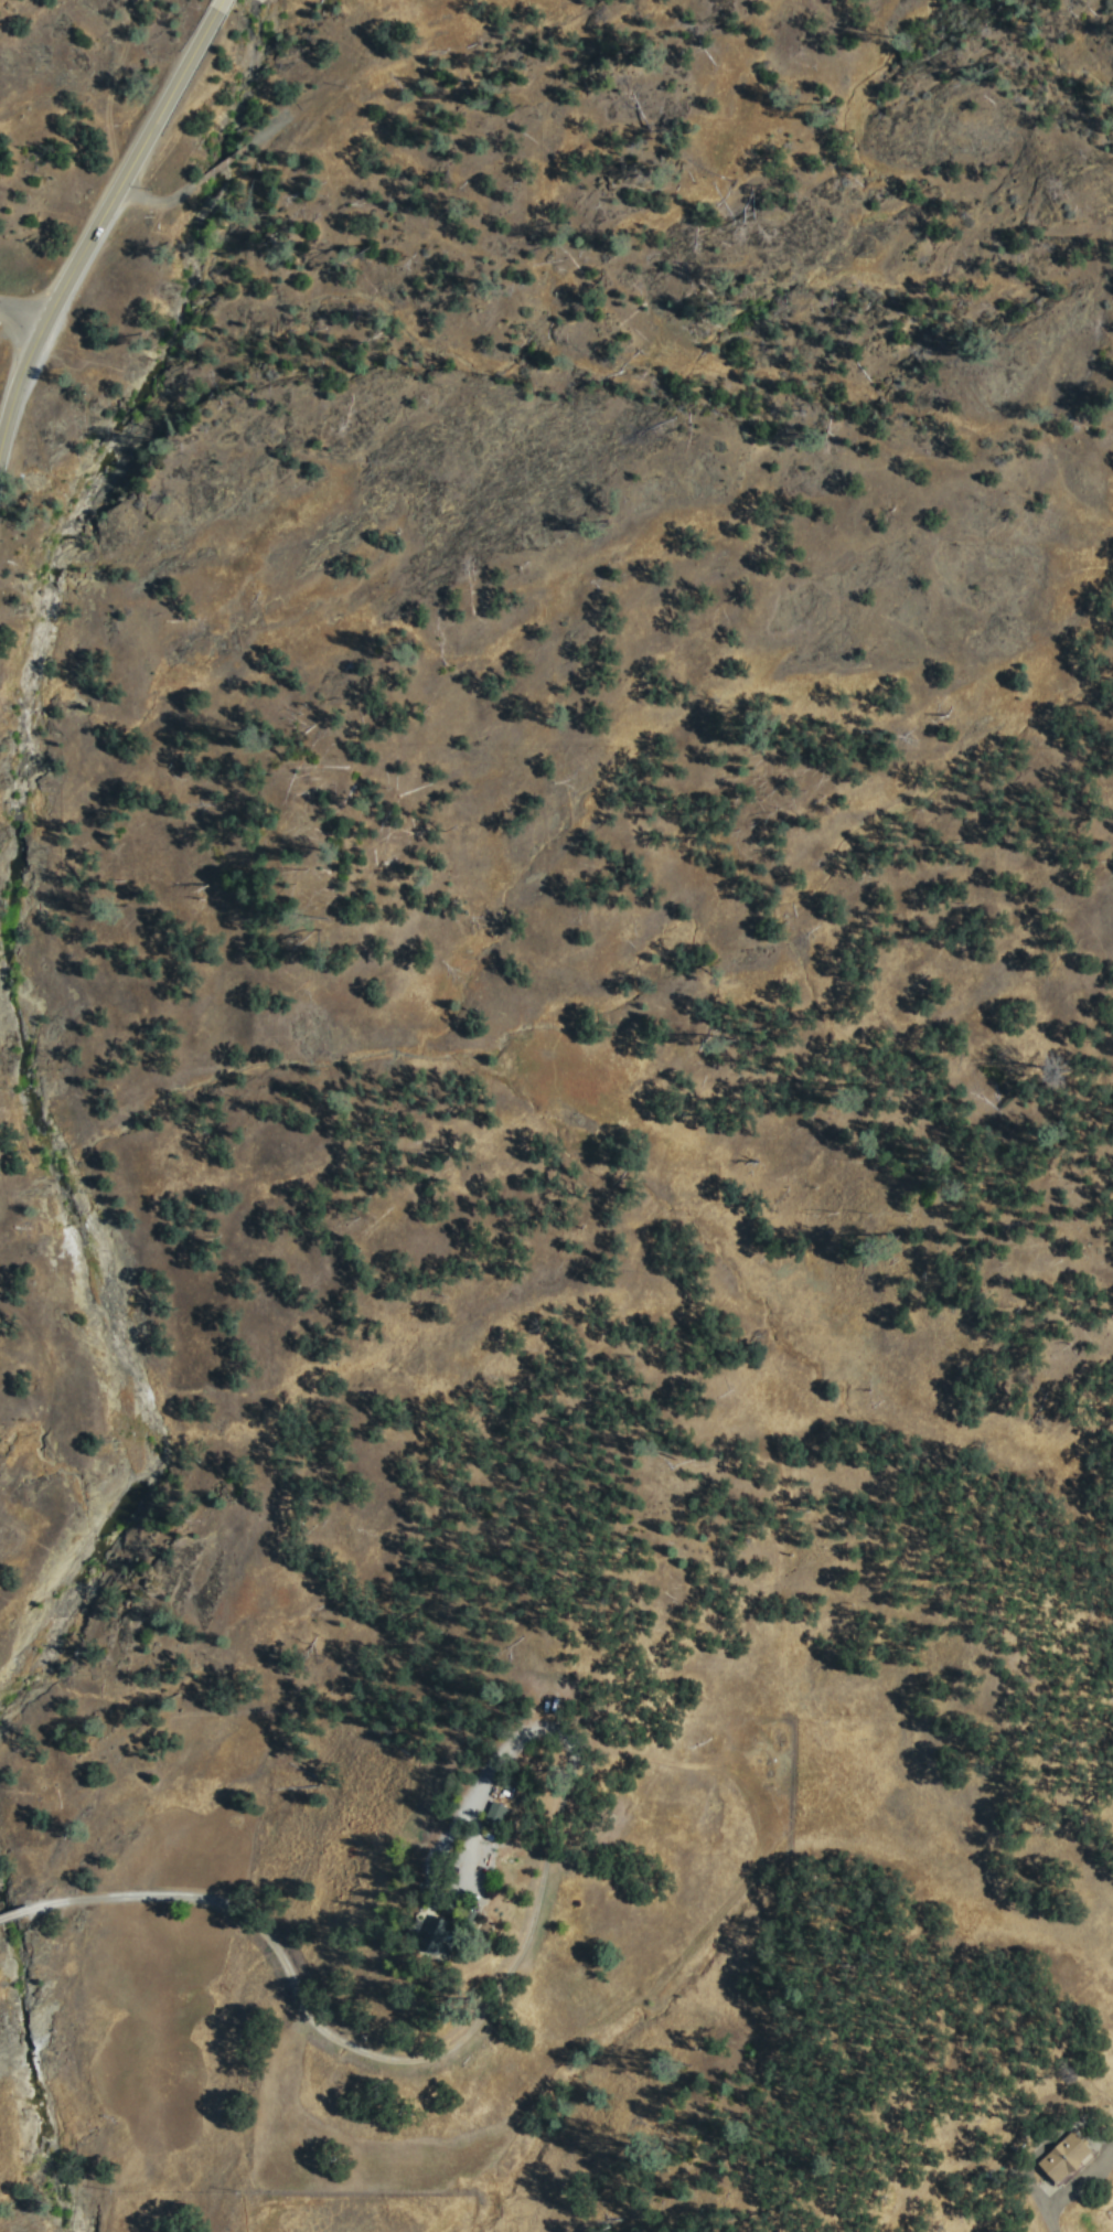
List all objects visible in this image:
road: (218, 3)
road: (131, 169)
river: (194, 255)
road: (20, 317)
road: (15, 388)
river: (14, 1015)
building: (507, 1811)
building: (445, 1931)
road: (285, 1966)
building: (1070, 2156)
road: (1083, 2202)
road: (1057, 2228)

